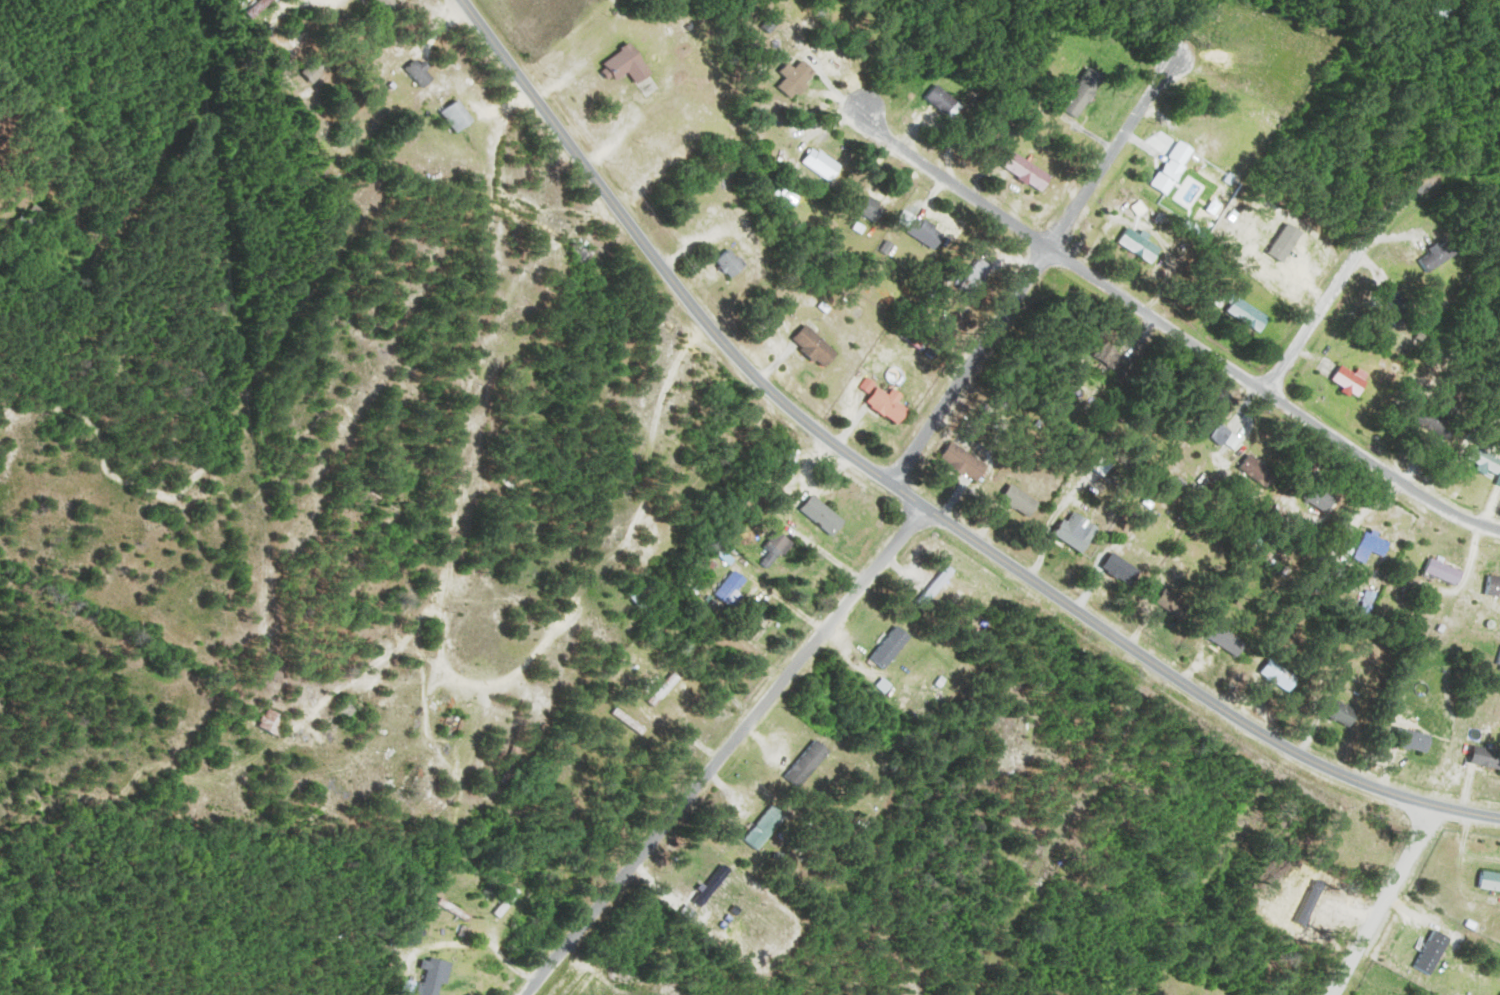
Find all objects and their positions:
building: (388, 5)
building: (259, 8)
building: (1445, 11)
building: (629, 64)
building: (317, 70)
building: (421, 72)
building: (801, 77)
building: (1086, 92)
building: (946, 102)
building: (459, 116)
building: (825, 162)
building: (1170, 169)
building: (1031, 172)
building: (34, 220)
building: (929, 232)
building: (1143, 246)
building: (584, 252)
building: (1441, 256)
building: (732, 263)
road: (1031, 270)
road: (1344, 271)
building: (1399, 307)
building: (1250, 316)
road: (1176, 327)
building: (818, 346)
road: (679, 353)
building: (1116, 358)
building: (1354, 379)
road: (468, 383)
building: (888, 402)
building: (1224, 433)
building: (964, 460)
building: (1488, 460)
building: (1260, 470)
building: (511, 485)
road: (912, 497)
building: (1321, 498)
building: (825, 515)
building: (1078, 531)
building: (1375, 546)
building: (777, 550)
building: (1125, 569)
building: (1447, 571)
building: (938, 585)
building: (1495, 585)
building: (734, 586)
building: (636, 595)
building: (1176, 602)
building: (704, 632)
road: (405, 639)
building: (1231, 640)
building: (893, 646)
building: (1280, 671)
building: (356, 709)
building: (1347, 713)
building: (274, 722)
building: (634, 722)
building: (458, 726)
building: (1419, 740)
road: (725, 750)
building: (1488, 756)
building: (809, 764)
building: (516, 765)
building: (767, 827)
building: (1491, 880)
road: (1381, 899)
building: (1435, 952)
building: (437, 978)

